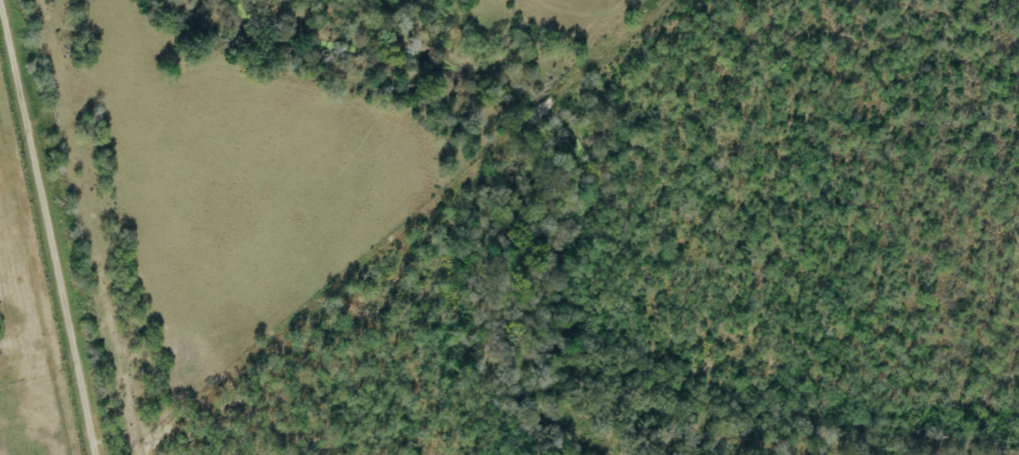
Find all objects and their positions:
road: (54, 227)

